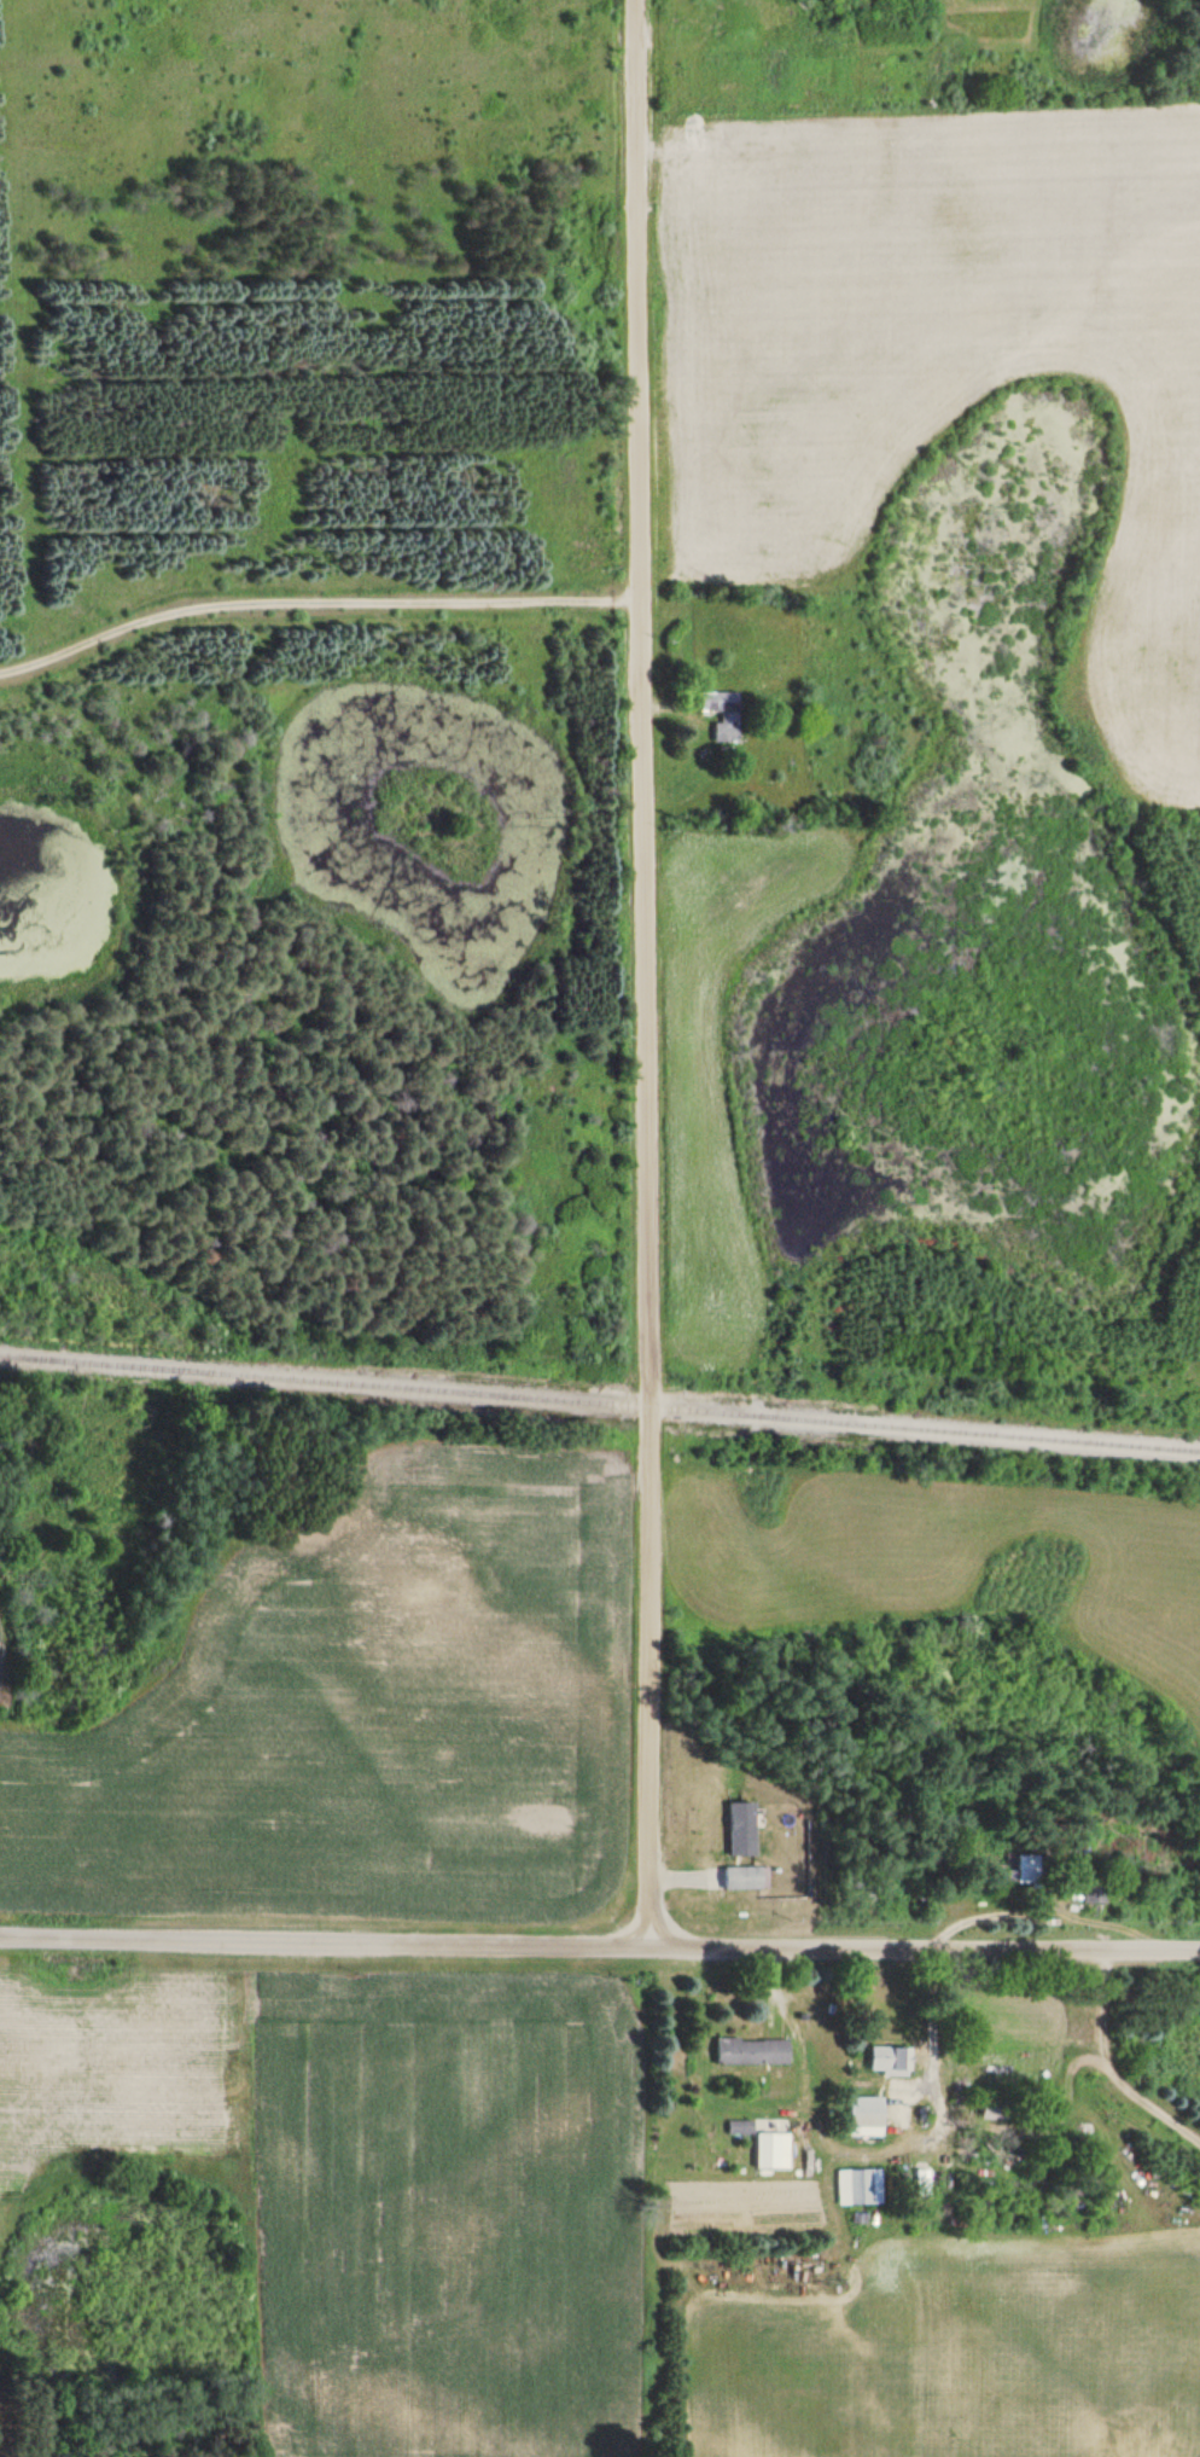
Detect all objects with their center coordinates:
building: (724, 714)
road: (643, 971)
railway: (600, 1396)
building: (741, 1829)
building: (1024, 1872)
building: (744, 1877)
building: (1096, 1889)
road: (599, 1944)
building: (753, 2051)
building: (890, 2060)
building: (868, 2116)
building: (741, 2127)
building: (774, 2151)
building: (861, 2188)

